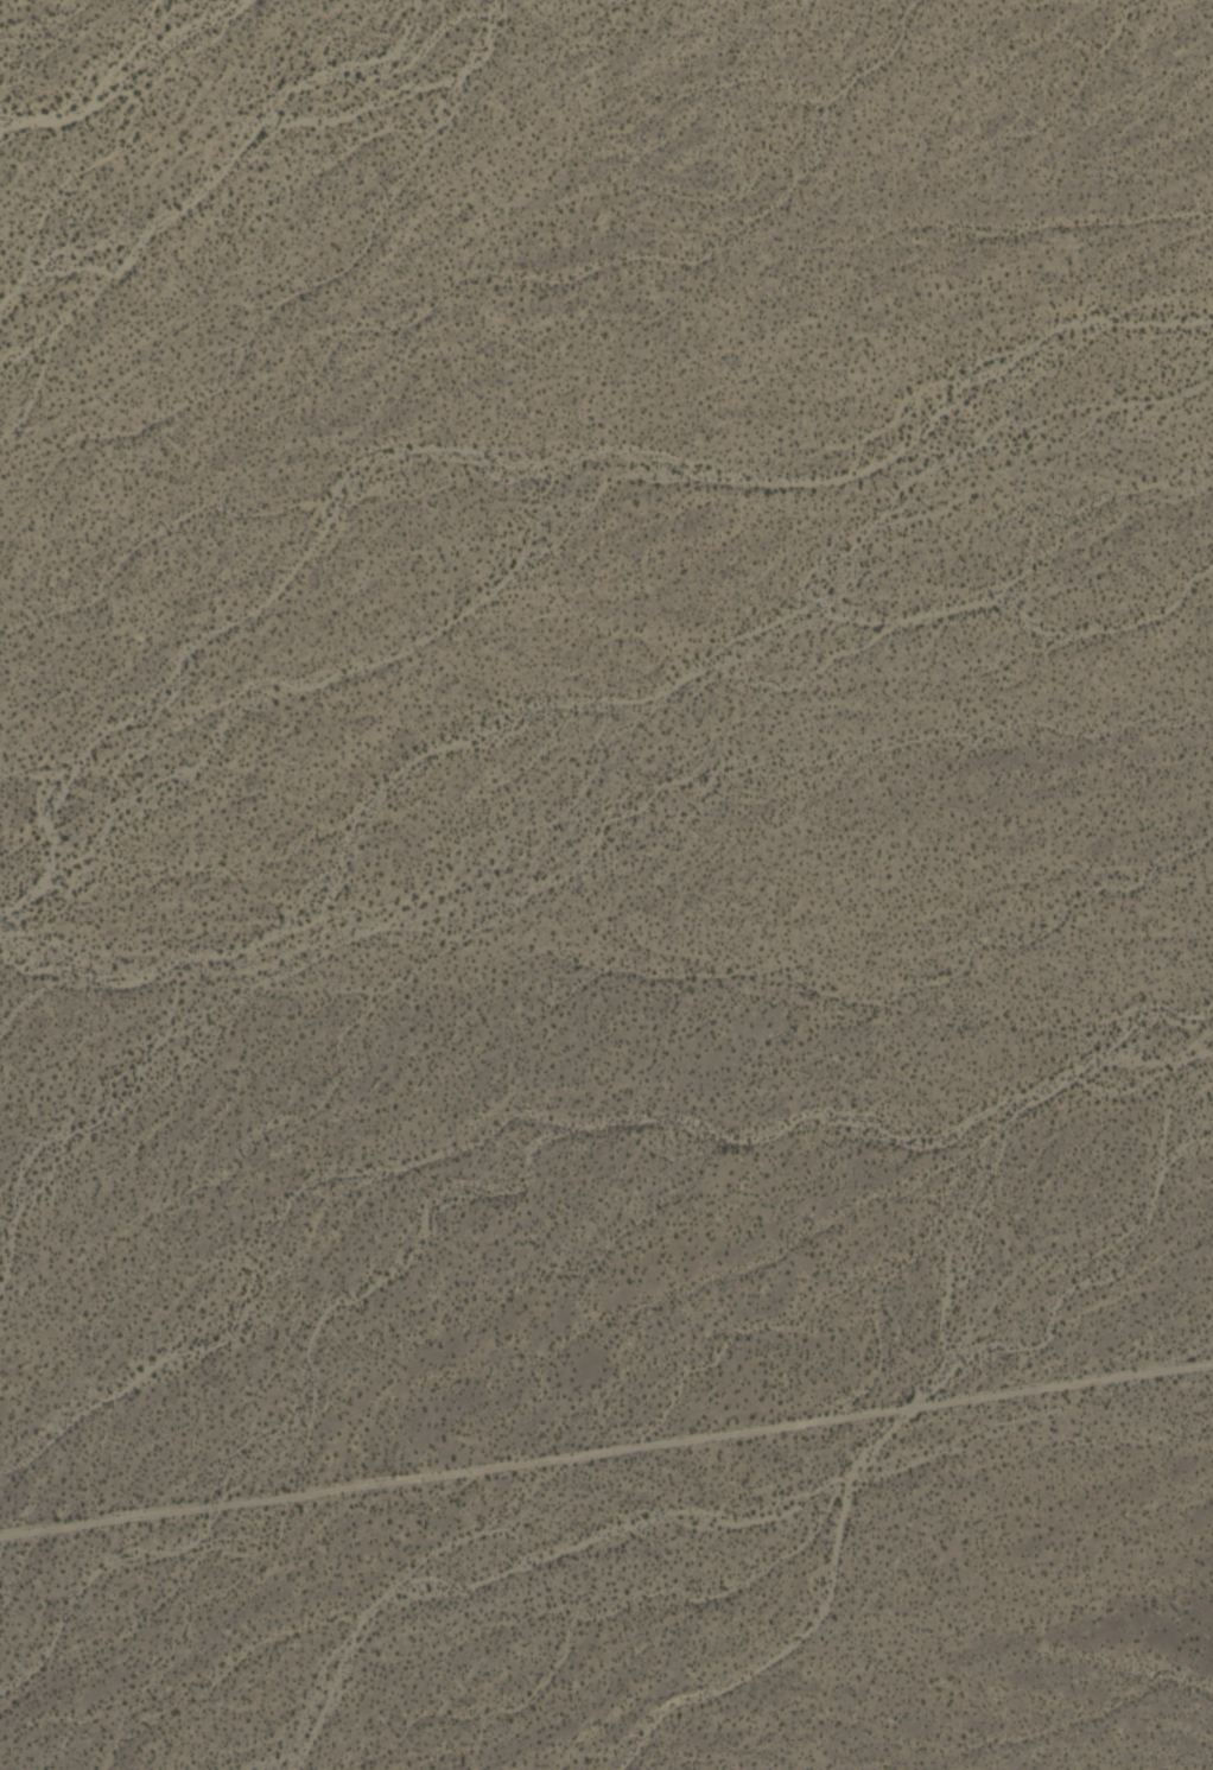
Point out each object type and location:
road: (606, 1451)

